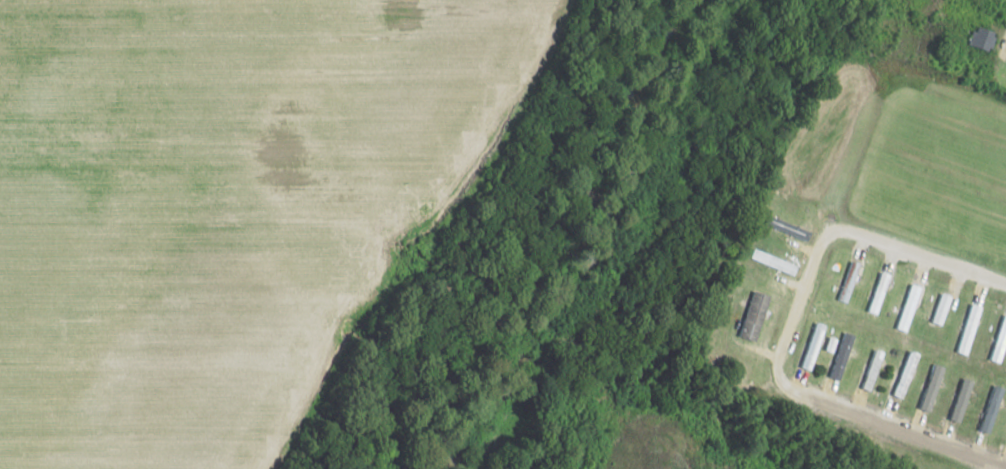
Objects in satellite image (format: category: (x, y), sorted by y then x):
building: (984, 38)
road: (915, 257)
road: (809, 270)
building: (849, 281)
building: (879, 292)
building: (909, 307)
building: (941, 309)
building: (969, 329)
building: (1000, 341)
building: (814, 346)
building: (842, 355)
building: (873, 370)
building: (907, 374)
building: (933, 391)
building: (965, 399)
building: (989, 415)

